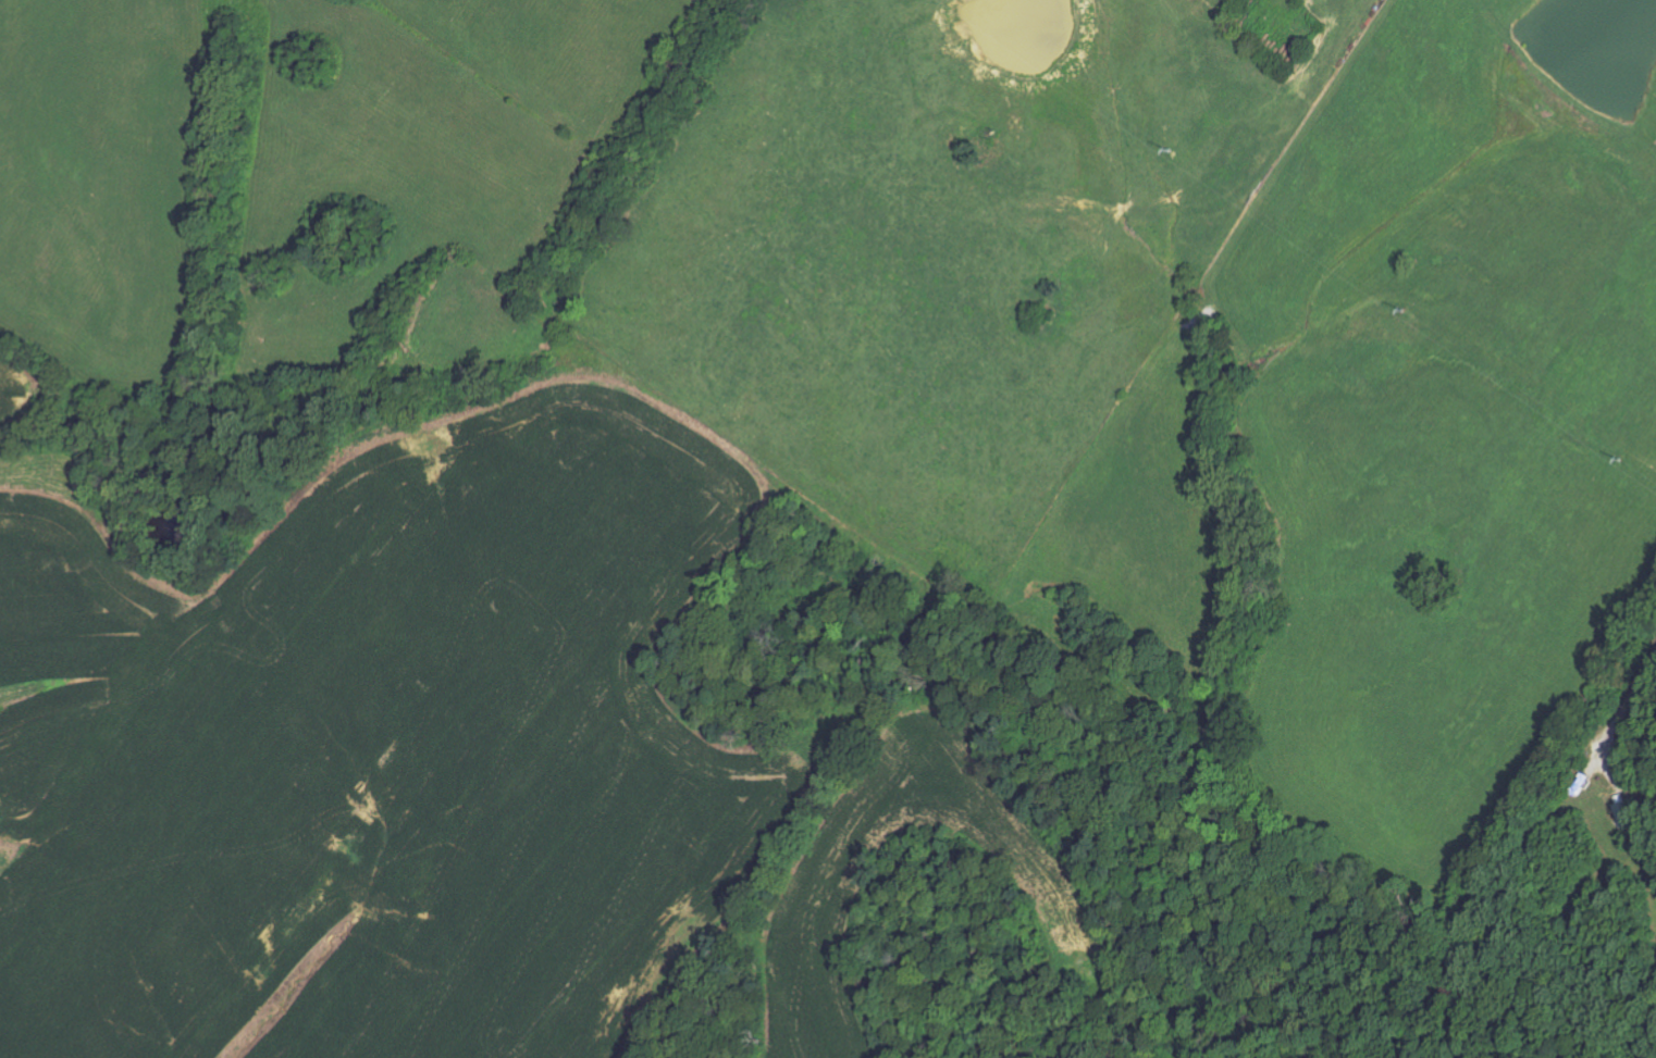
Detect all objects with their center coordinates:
road: (1620, 712)
building: (1626, 814)

